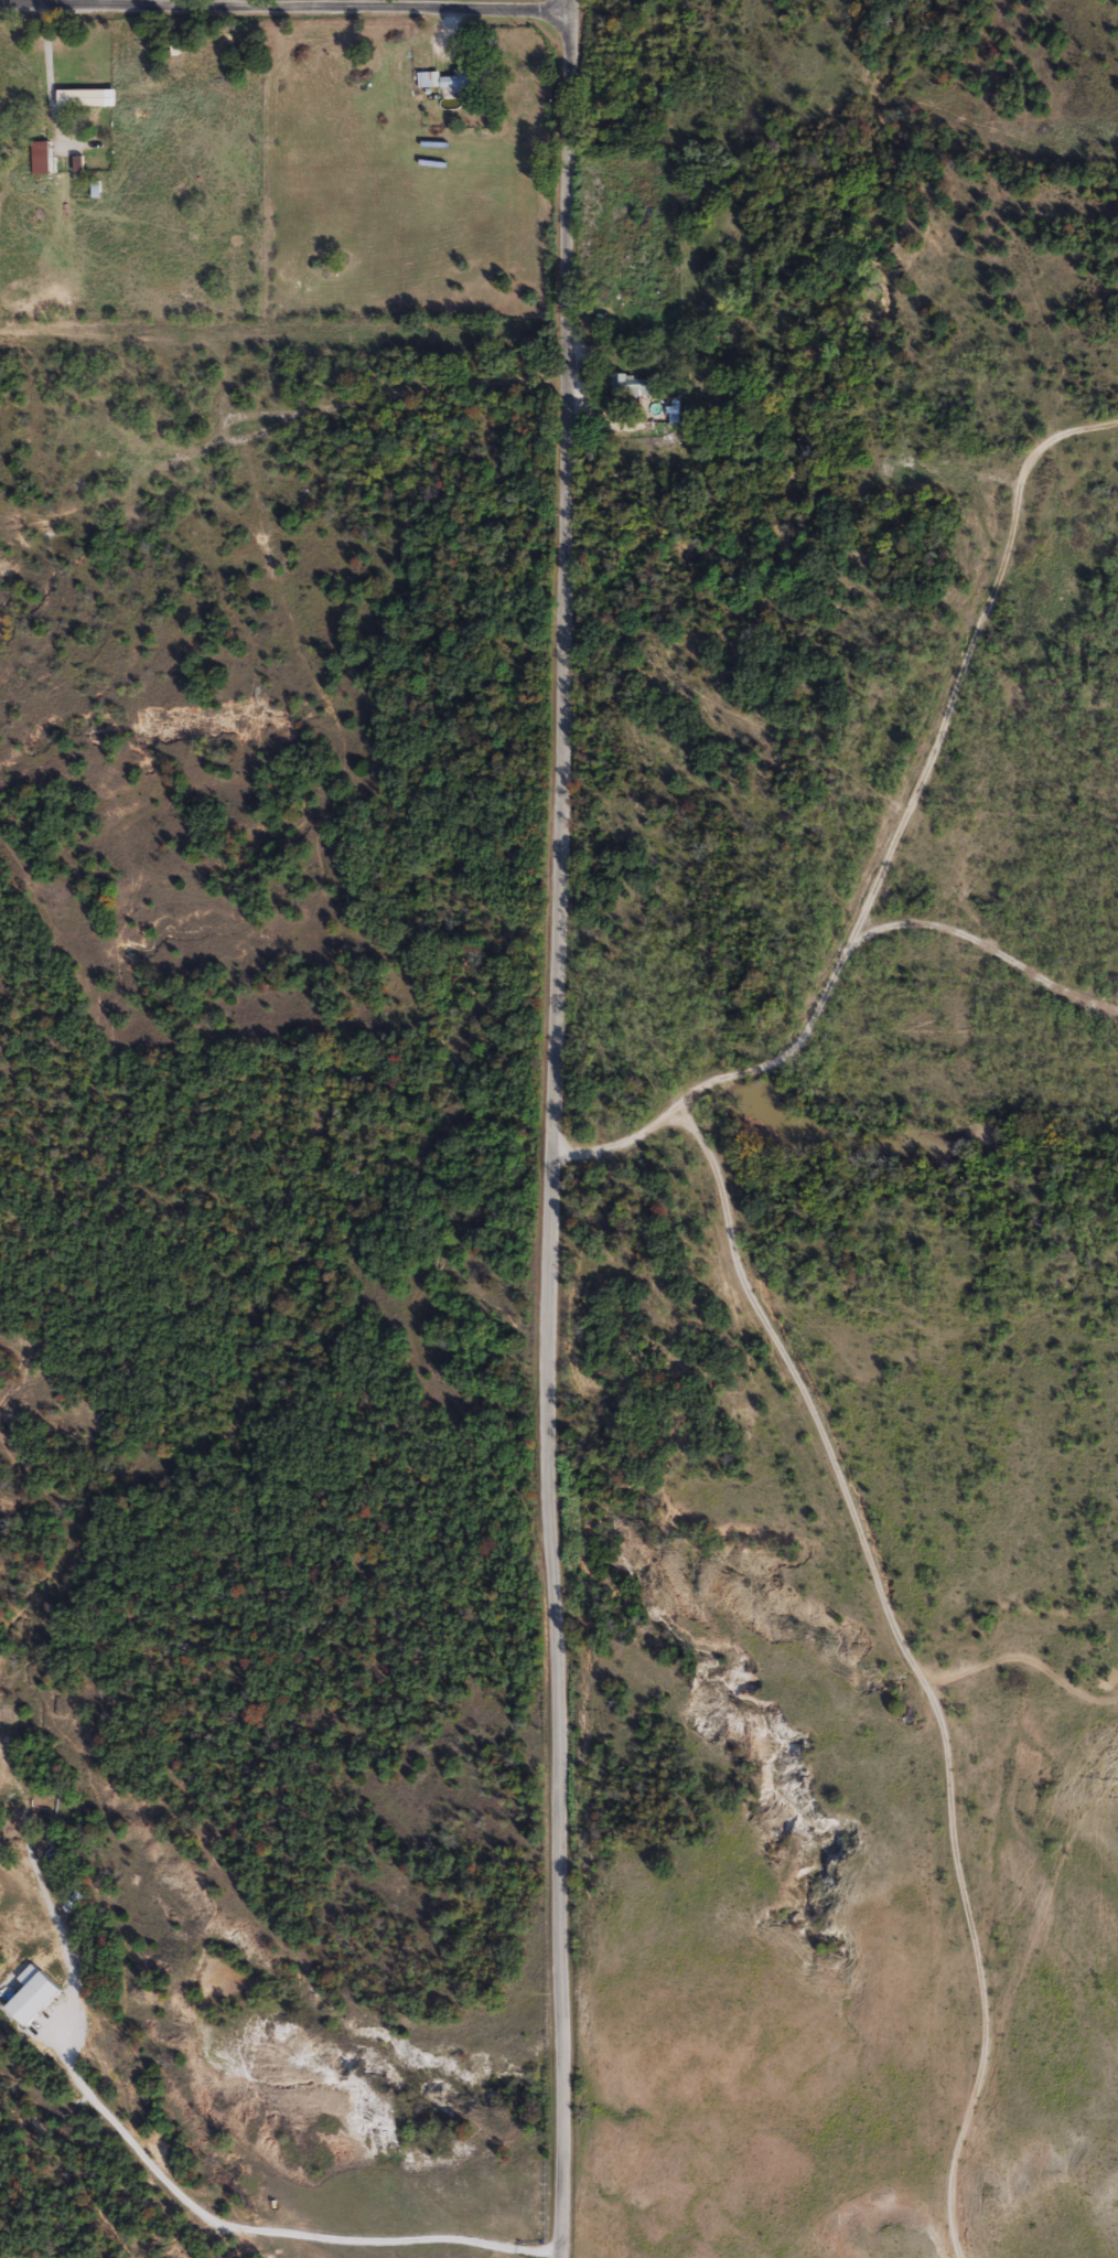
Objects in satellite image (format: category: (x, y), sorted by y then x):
road: (308, 3)
building: (120, 52)
road: (49, 65)
building: (444, 79)
building: (84, 98)
building: (37, 158)
building: (619, 384)
road: (398, 392)
road: (897, 836)
road: (993, 945)
road: (555, 1128)
road: (288, 2236)

